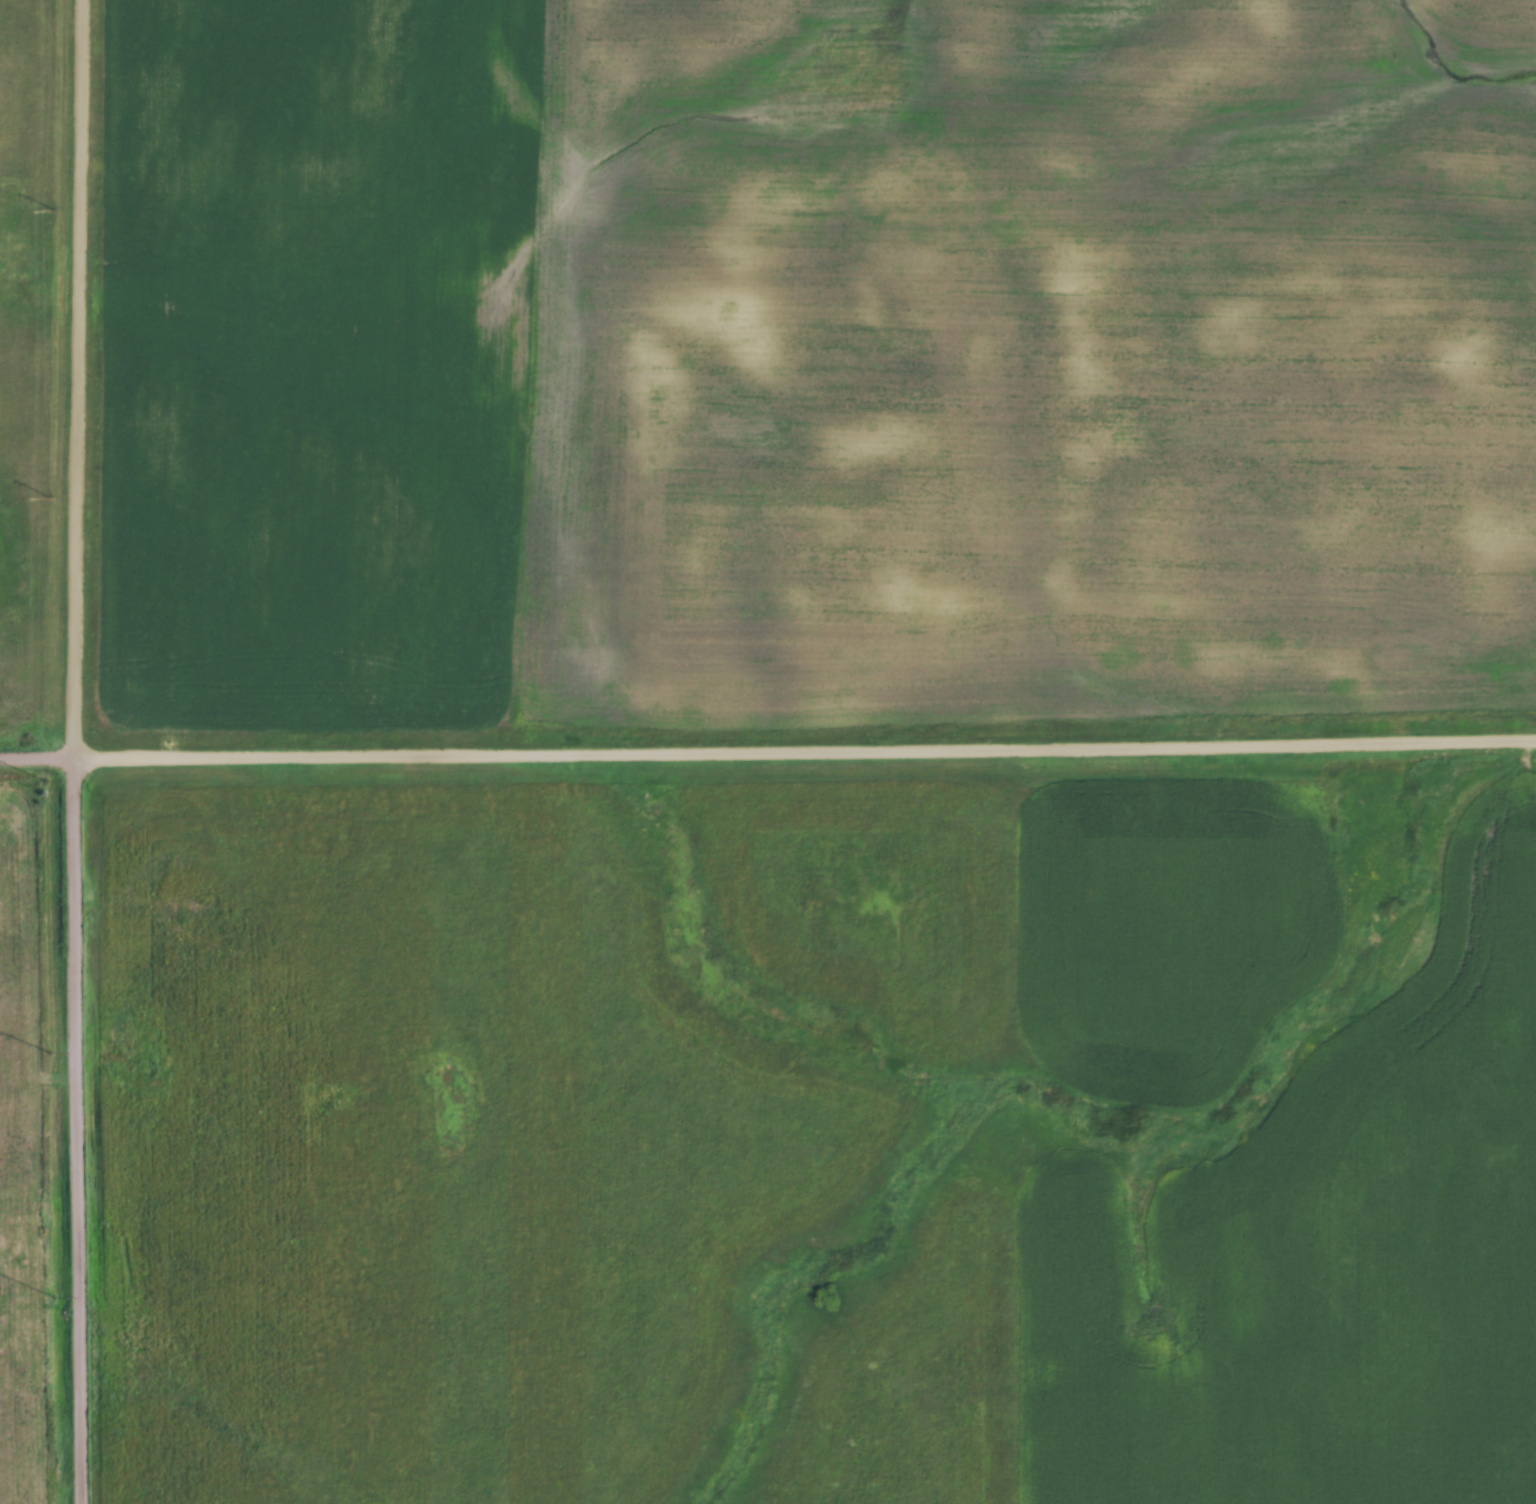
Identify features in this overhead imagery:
road: (768, 749)
road: (75, 751)

